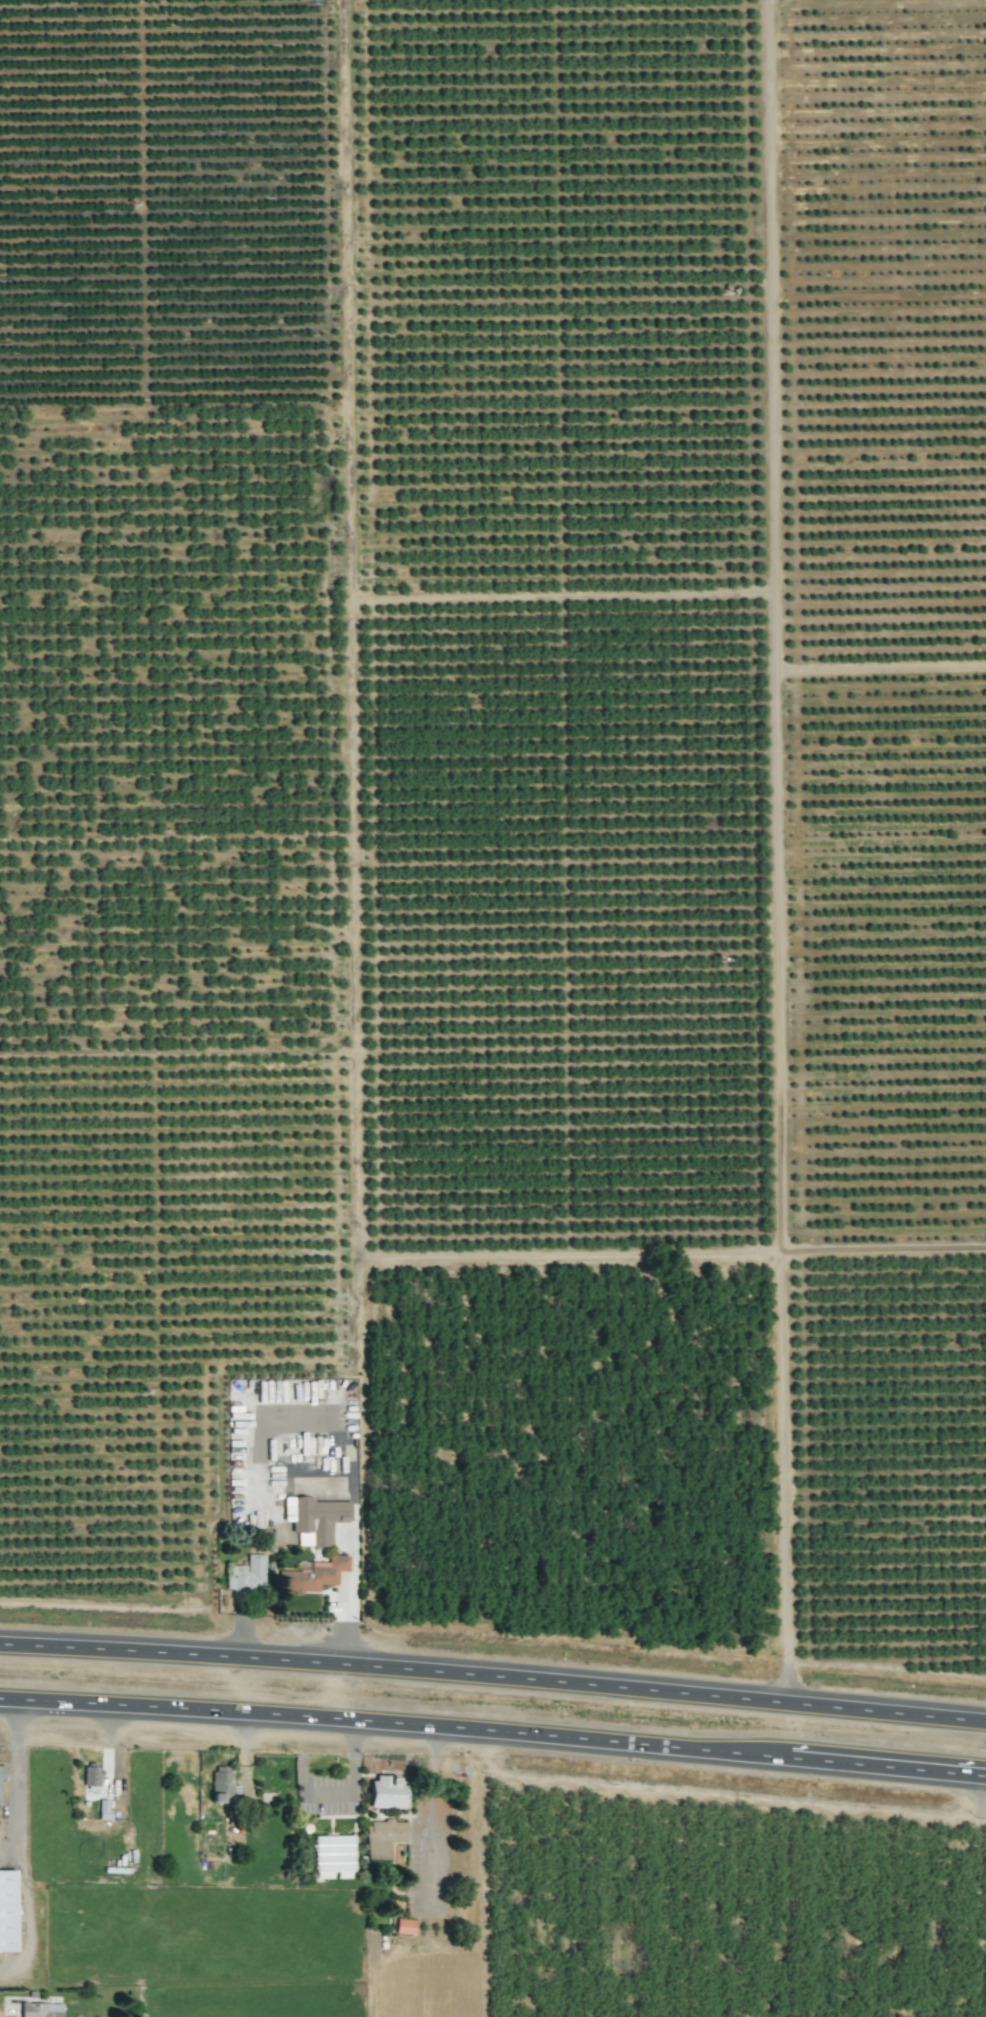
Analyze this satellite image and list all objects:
crop: (511, 954)
road: (352, 1461)
building: (314, 1519)
building: (247, 1576)
building: (312, 1576)
road: (176, 1655)
road: (669, 1692)
road: (493, 1731)
building: (1, 1772)
building: (91, 1776)
road: (16, 1778)
building: (223, 1786)
building: (387, 1792)
building: (103, 1809)
building: (382, 1837)
building: (333, 1854)
road: (979, 1895)
building: (7, 1911)
road: (27, 1915)
building: (404, 1926)
building: (41, 2010)

